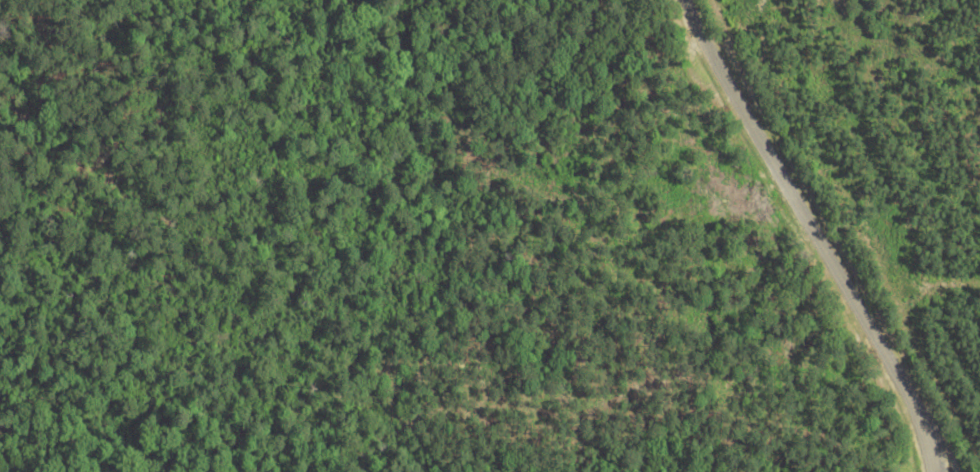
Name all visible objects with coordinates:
road: (817, 237)
road: (929, 454)

